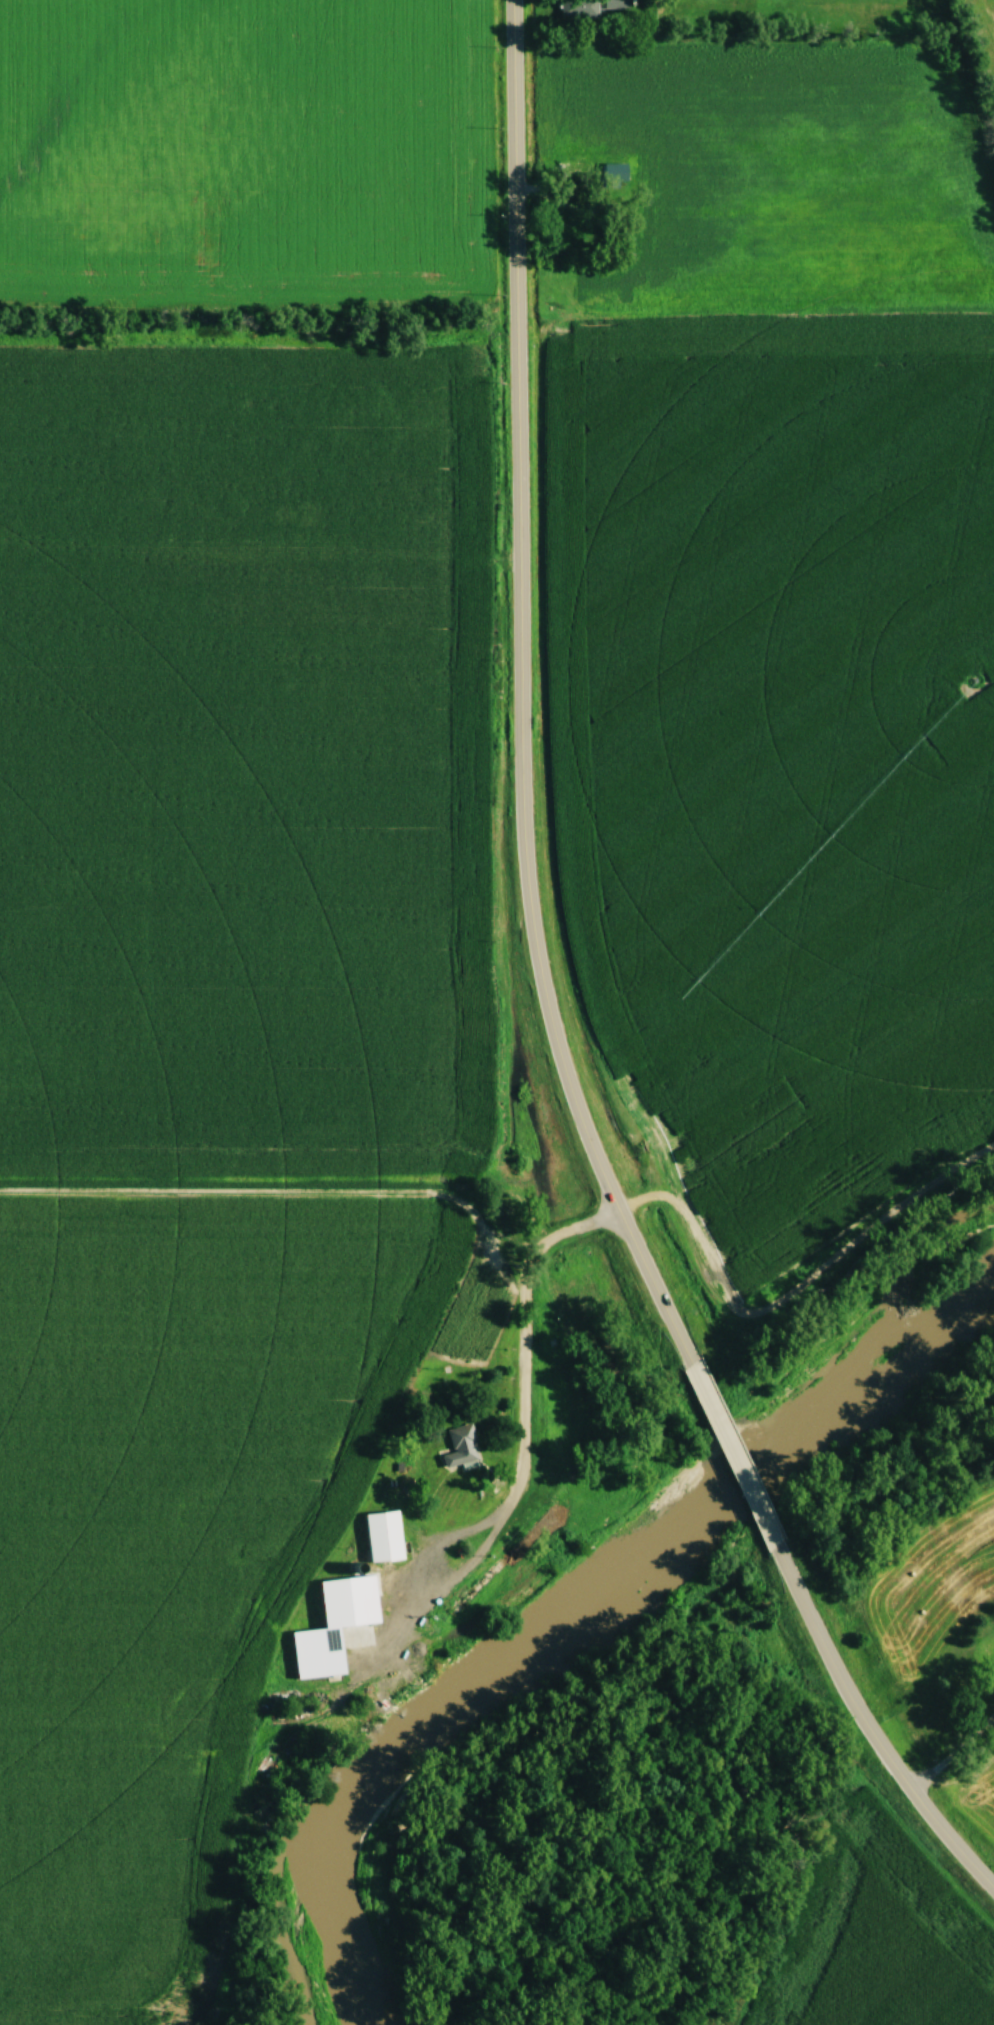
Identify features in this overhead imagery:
building: (615, 4)
building: (579, 8)
building: (561, 229)
road: (522, 700)
crop: (218, 1048)
road: (521, 1410)
building: (460, 1446)
road: (732, 1462)
building: (383, 1536)
building: (446, 1568)
river: (600, 1617)
building: (316, 1618)
building: (991, 1660)
road: (867, 1732)

